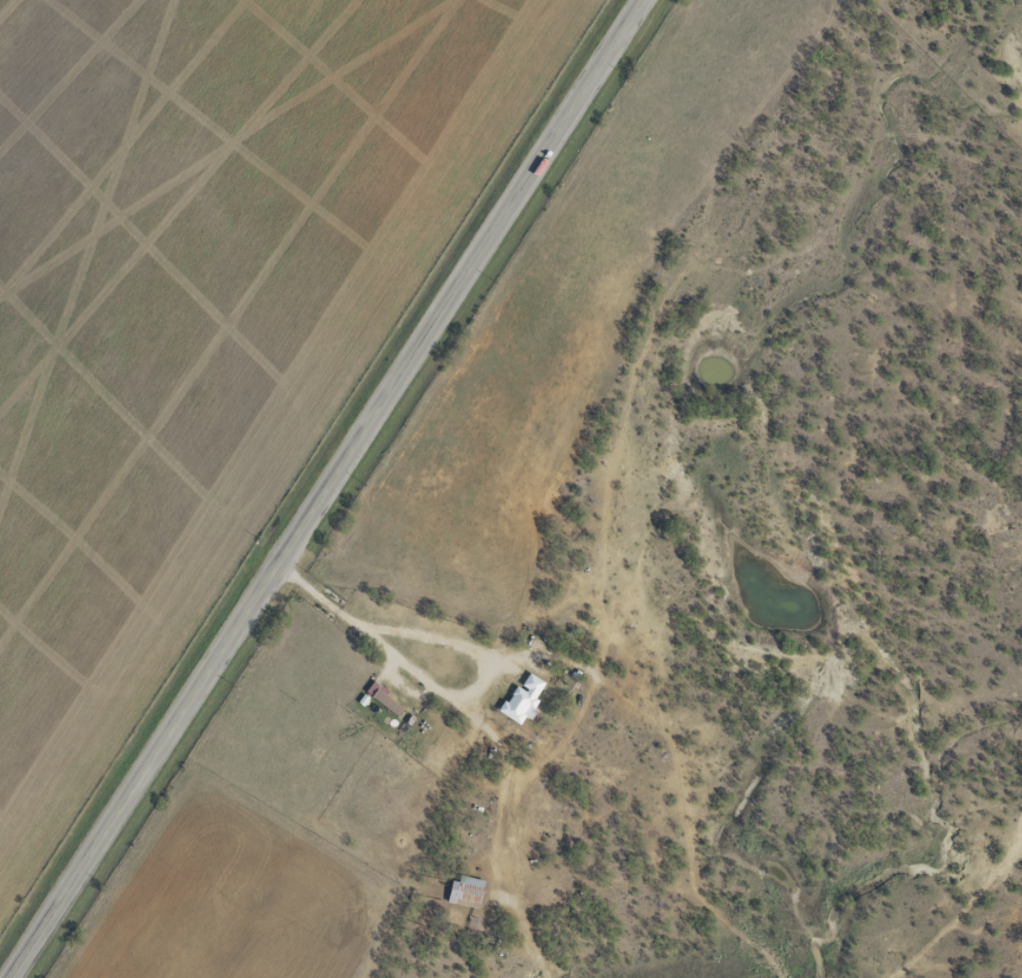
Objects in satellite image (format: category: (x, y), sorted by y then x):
road: (329, 489)
road: (595, 570)
road: (299, 624)
road: (471, 625)
building: (379, 695)
building: (521, 696)
building: (463, 890)

